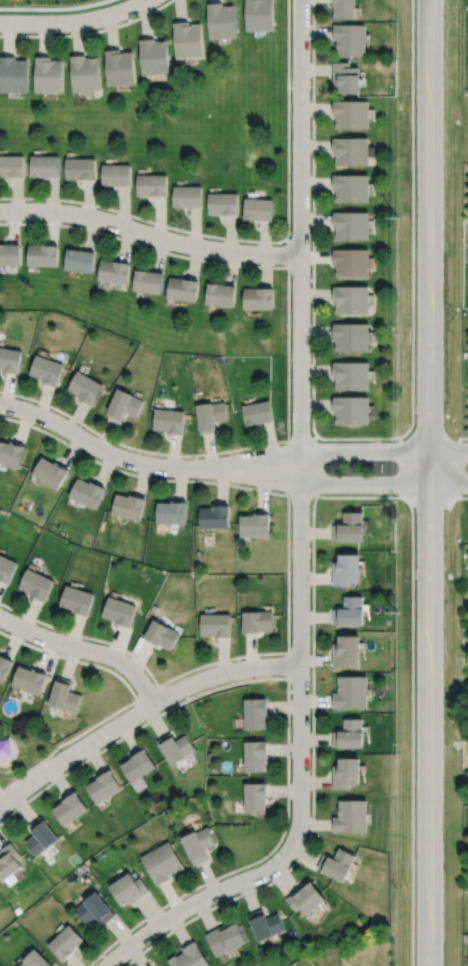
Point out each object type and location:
road: (180, 8)
building: (345, 9)
building: (259, 15)
road: (145, 17)
building: (221, 21)
road: (74, 22)
road: (111, 30)
road: (88, 32)
road: (314, 32)
road: (9, 36)
road: (77, 36)
road: (44, 37)
building: (350, 39)
building: (188, 40)
building: (155, 57)
building: (120, 67)
road: (312, 70)
building: (85, 73)
building: (49, 75)
building: (13, 76)
building: (346, 78)
road: (313, 109)
building: (351, 114)
park: (173, 121)
road: (312, 146)
building: (351, 150)
building: (11, 166)
building: (45, 166)
building: (81, 169)
building: (116, 174)
road: (313, 181)
building: (151, 185)
building: (351, 188)
building: (187, 196)
road: (17, 197)
road: (51, 197)
road: (88, 200)
building: (223, 204)
road: (123, 208)
building: (258, 209)
road: (159, 218)
road: (313, 219)
road: (13, 225)
building: (351, 225)
road: (52, 226)
road: (194, 229)
road: (90, 232)
road: (149, 233)
road: (231, 235)
road: (265, 239)
road: (259, 242)
road: (126, 243)
road: (160, 252)
road: (289, 253)
building: (43, 254)
building: (10, 255)
road: (313, 257)
building: (80, 260)
road: (195, 260)
building: (352, 263)
road: (232, 265)
road: (266, 268)
building: (114, 272)
building: (148, 282)
building: (183, 290)
road: (312, 294)
building: (220, 295)
building: (259, 298)
building: (351, 299)
road: (313, 332)
building: (351, 336)
road: (287, 339)
building: (10, 361)
building: (47, 370)
road: (312, 370)
building: (351, 375)
building: (85, 388)
road: (7, 391)
road: (19, 395)
road: (42, 402)
building: (124, 404)
road: (314, 404)
building: (351, 409)
building: (257, 412)
building: (210, 416)
road: (300, 416)
road: (76, 418)
building: (169, 420)
road: (105, 435)
road: (360, 438)
road: (272, 446)
road: (361, 450)
road: (448, 451)
road: (209, 452)
building: (11, 453)
road: (173, 453)
road: (143, 462)
building: (50, 472)
road: (427, 482)
road: (361, 484)
road: (447, 484)
building: (87, 492)
building: (128, 506)
building: (171, 512)
building: (214, 517)
building: (254, 524)
building: (350, 528)
building: (6, 568)
building: (346, 570)
building: (36, 584)
building: (76, 599)
building: (120, 611)
building: (350, 612)
building: (257, 621)
building: (215, 624)
building: (161, 634)
road: (85, 649)
building: (346, 651)
building: (4, 667)
road: (223, 673)
building: (29, 679)
building: (351, 692)
building: (63, 695)
building: (255, 713)
building: (350, 734)
road: (77, 736)
building: (175, 748)
road: (74, 751)
park: (20, 756)
building: (255, 756)
building: (138, 765)
building: (346, 772)
building: (103, 786)
road: (0, 791)
building: (255, 797)
building: (70, 809)
building: (351, 817)
building: (41, 836)
building: (199, 844)
building: (9, 861)
building: (162, 862)
building: (337, 864)
building: (128, 888)
road: (202, 898)
building: (307, 899)
building: (94, 909)
building: (266, 924)
building: (226, 939)
building: (65, 942)
building: (190, 957)
building: (35, 960)

